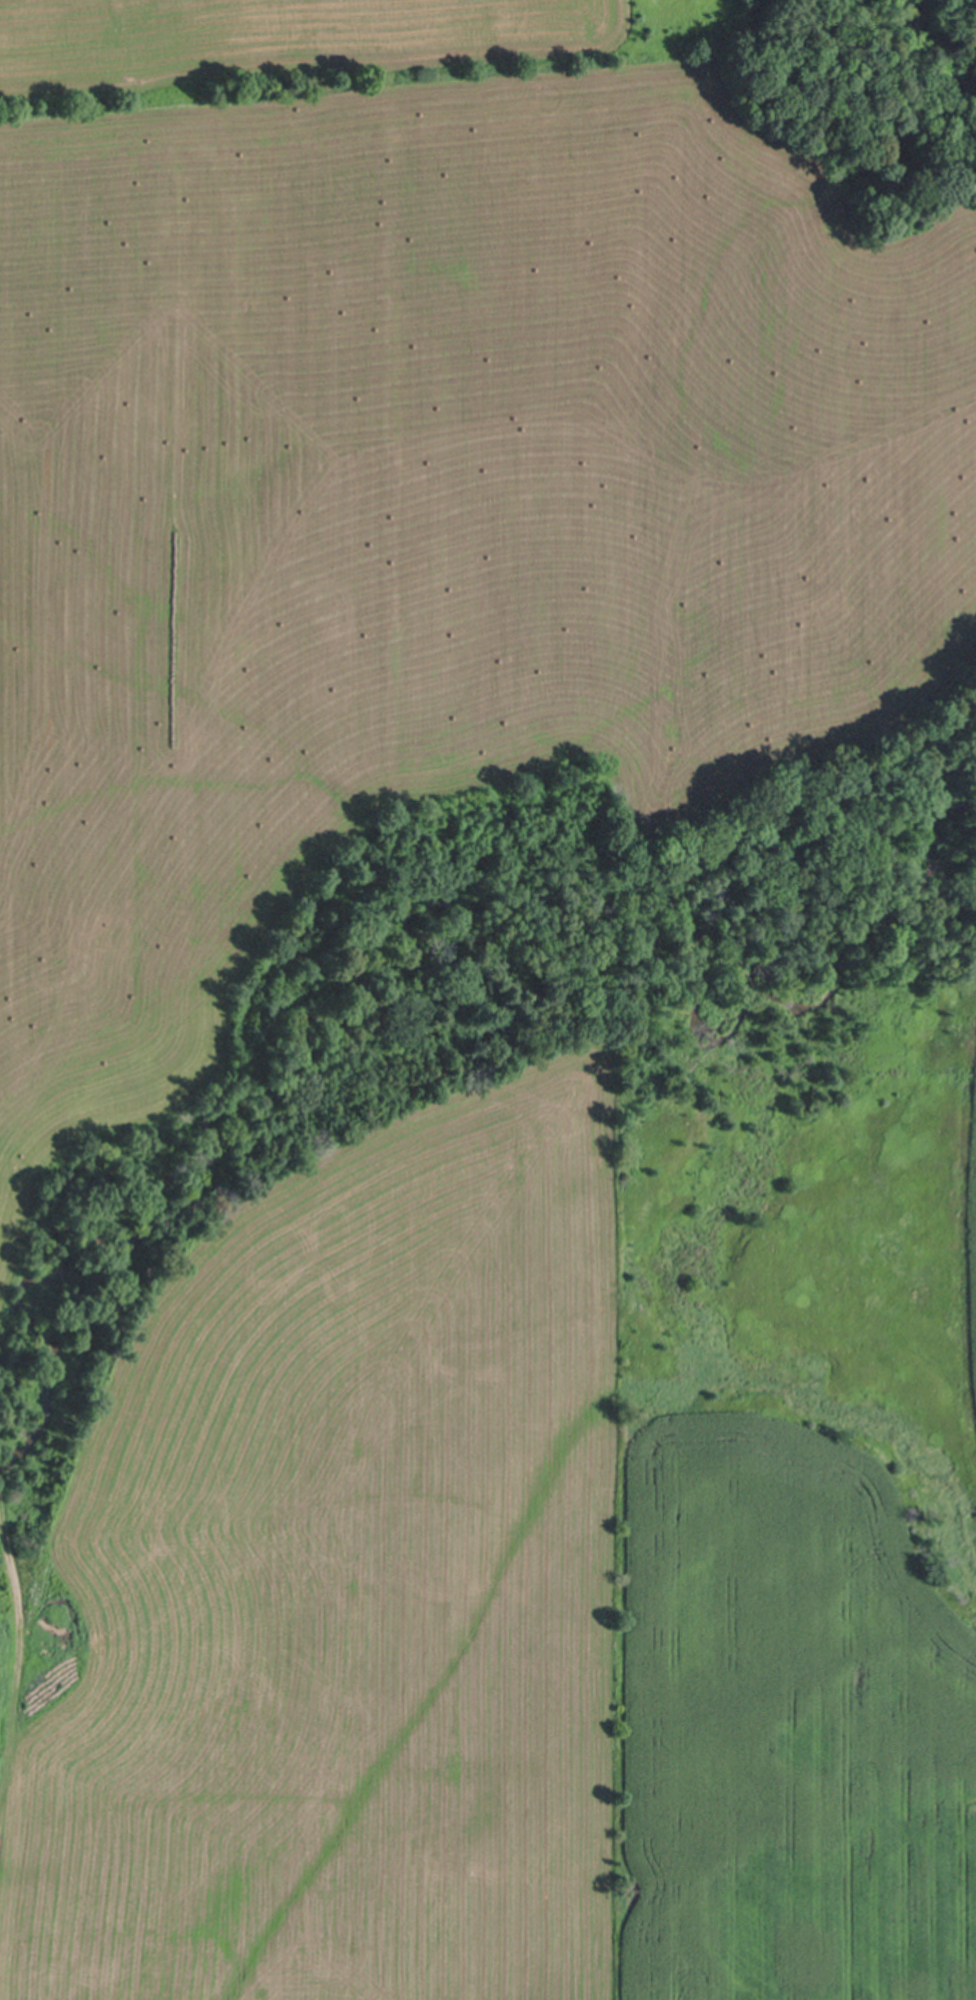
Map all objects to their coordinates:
river: (889, 90)

